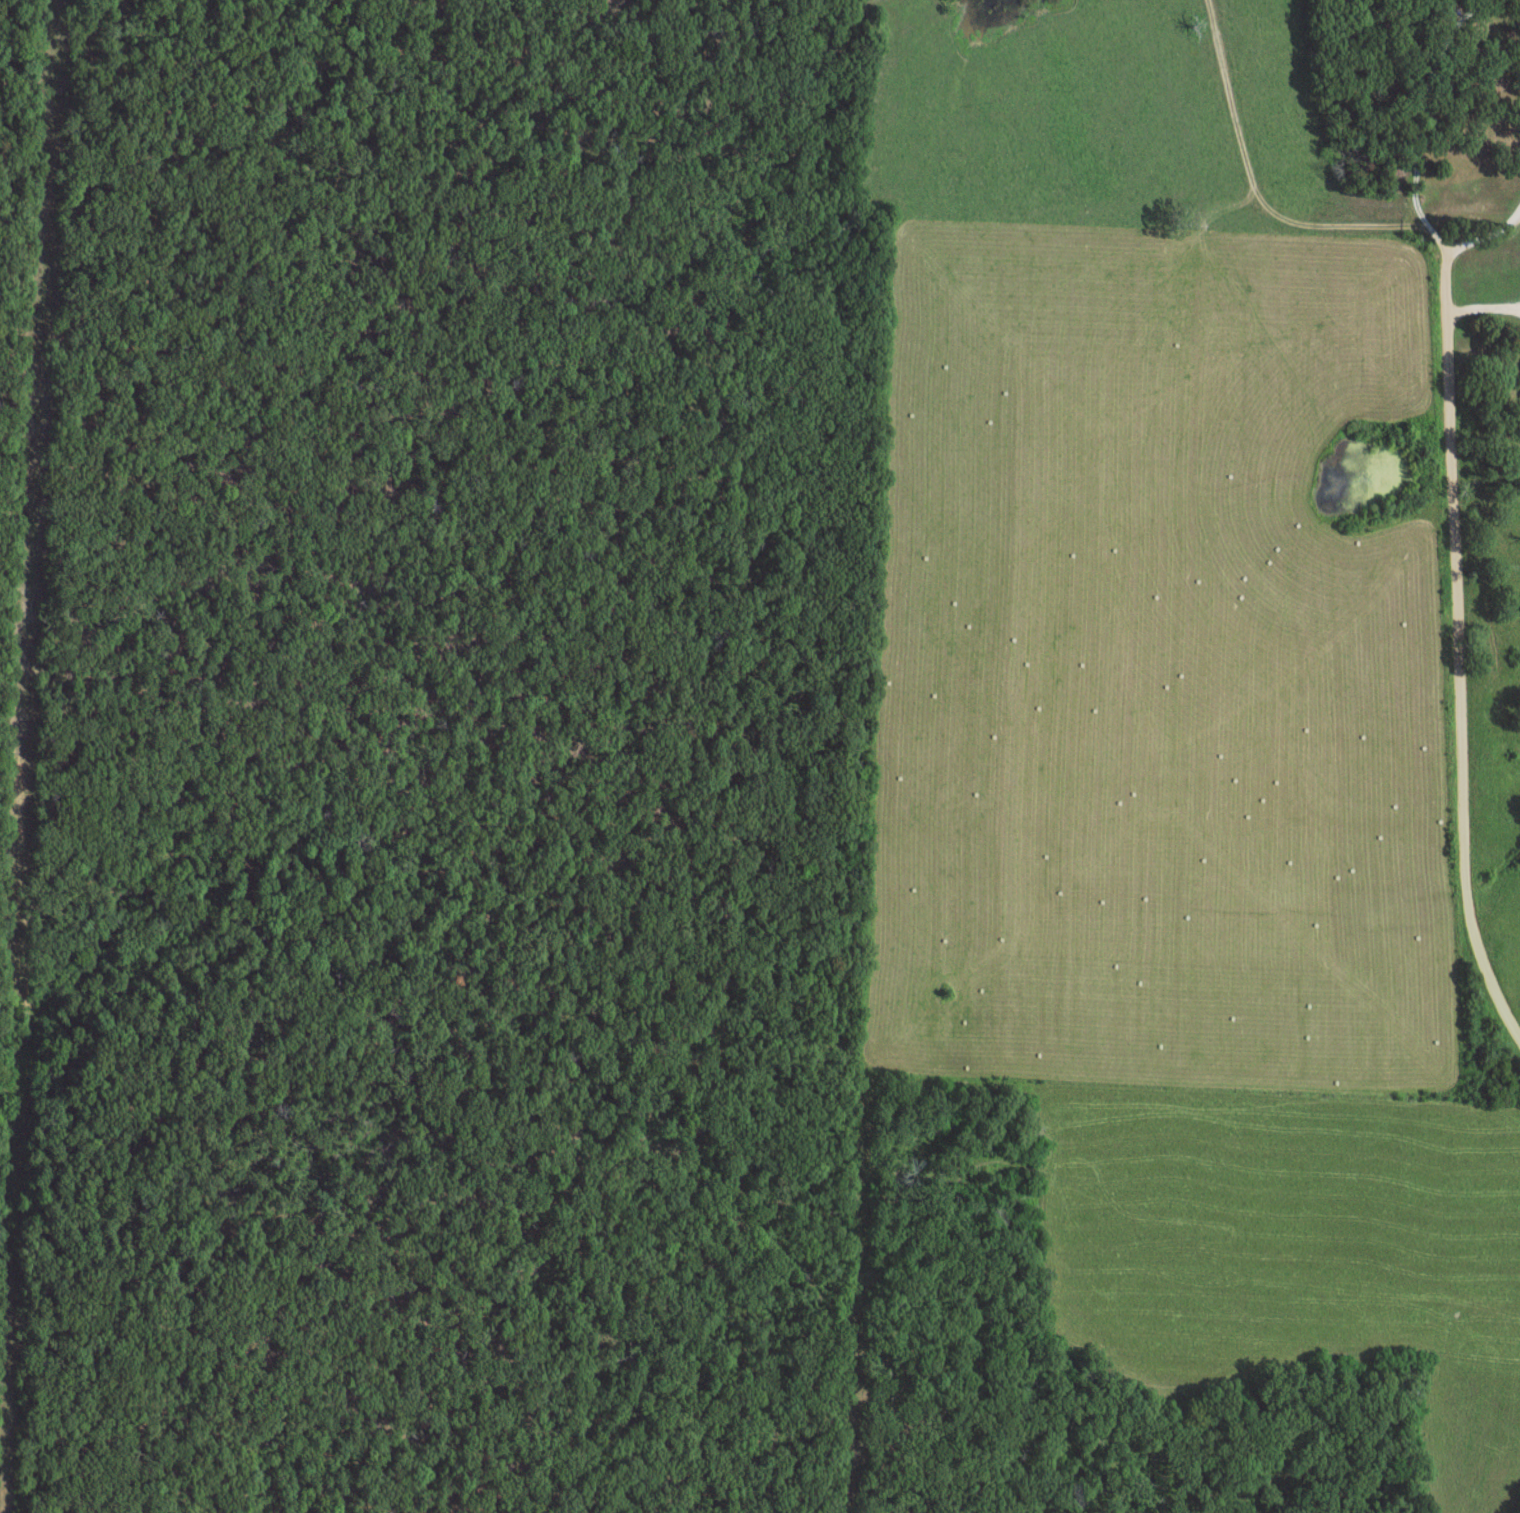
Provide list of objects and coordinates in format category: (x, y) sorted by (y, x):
road: (1290, 219)
road: (1482, 308)
road: (1452, 510)

